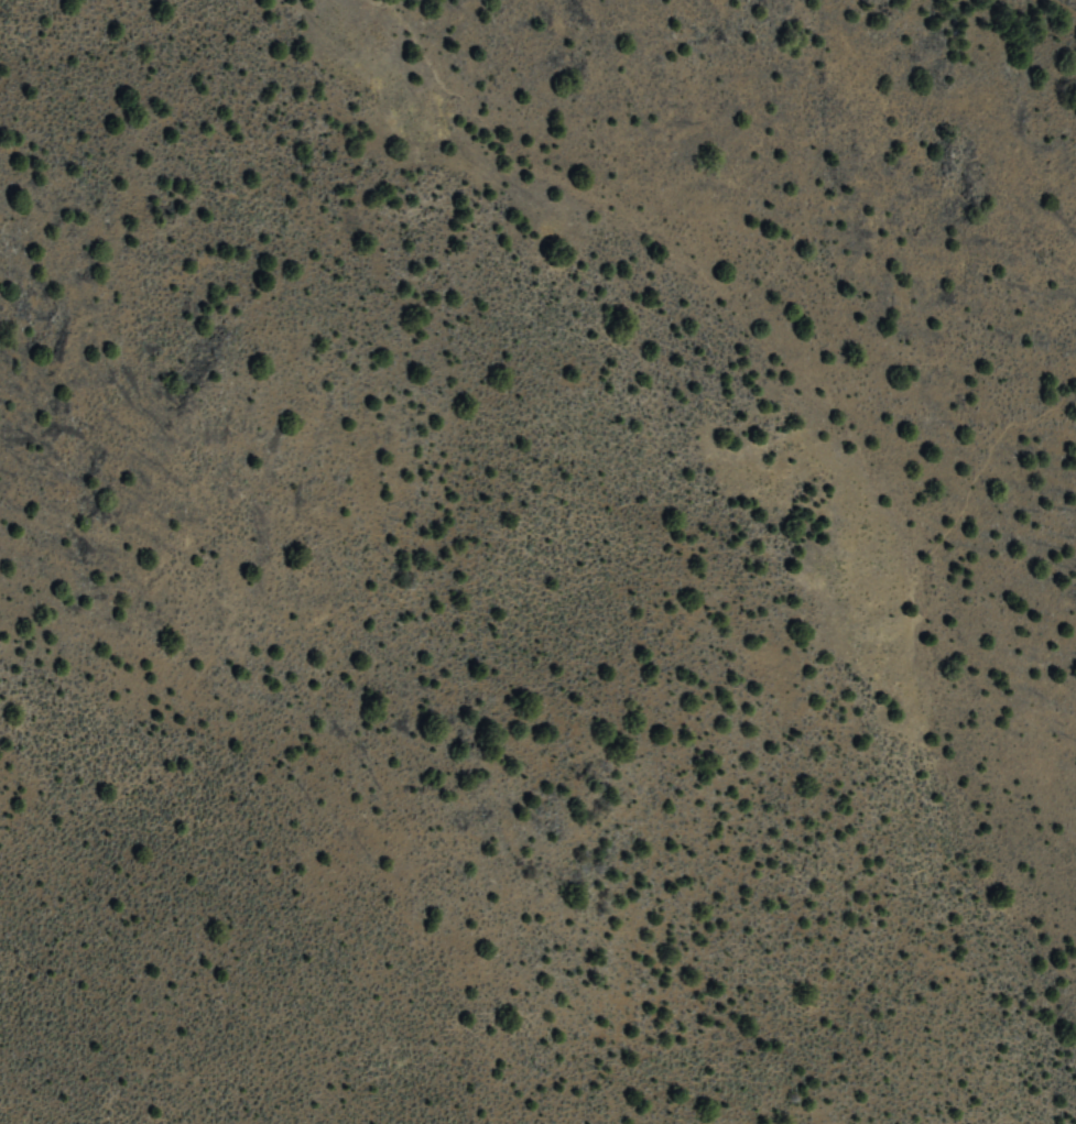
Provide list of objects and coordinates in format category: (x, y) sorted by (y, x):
road: (1063, 4)

